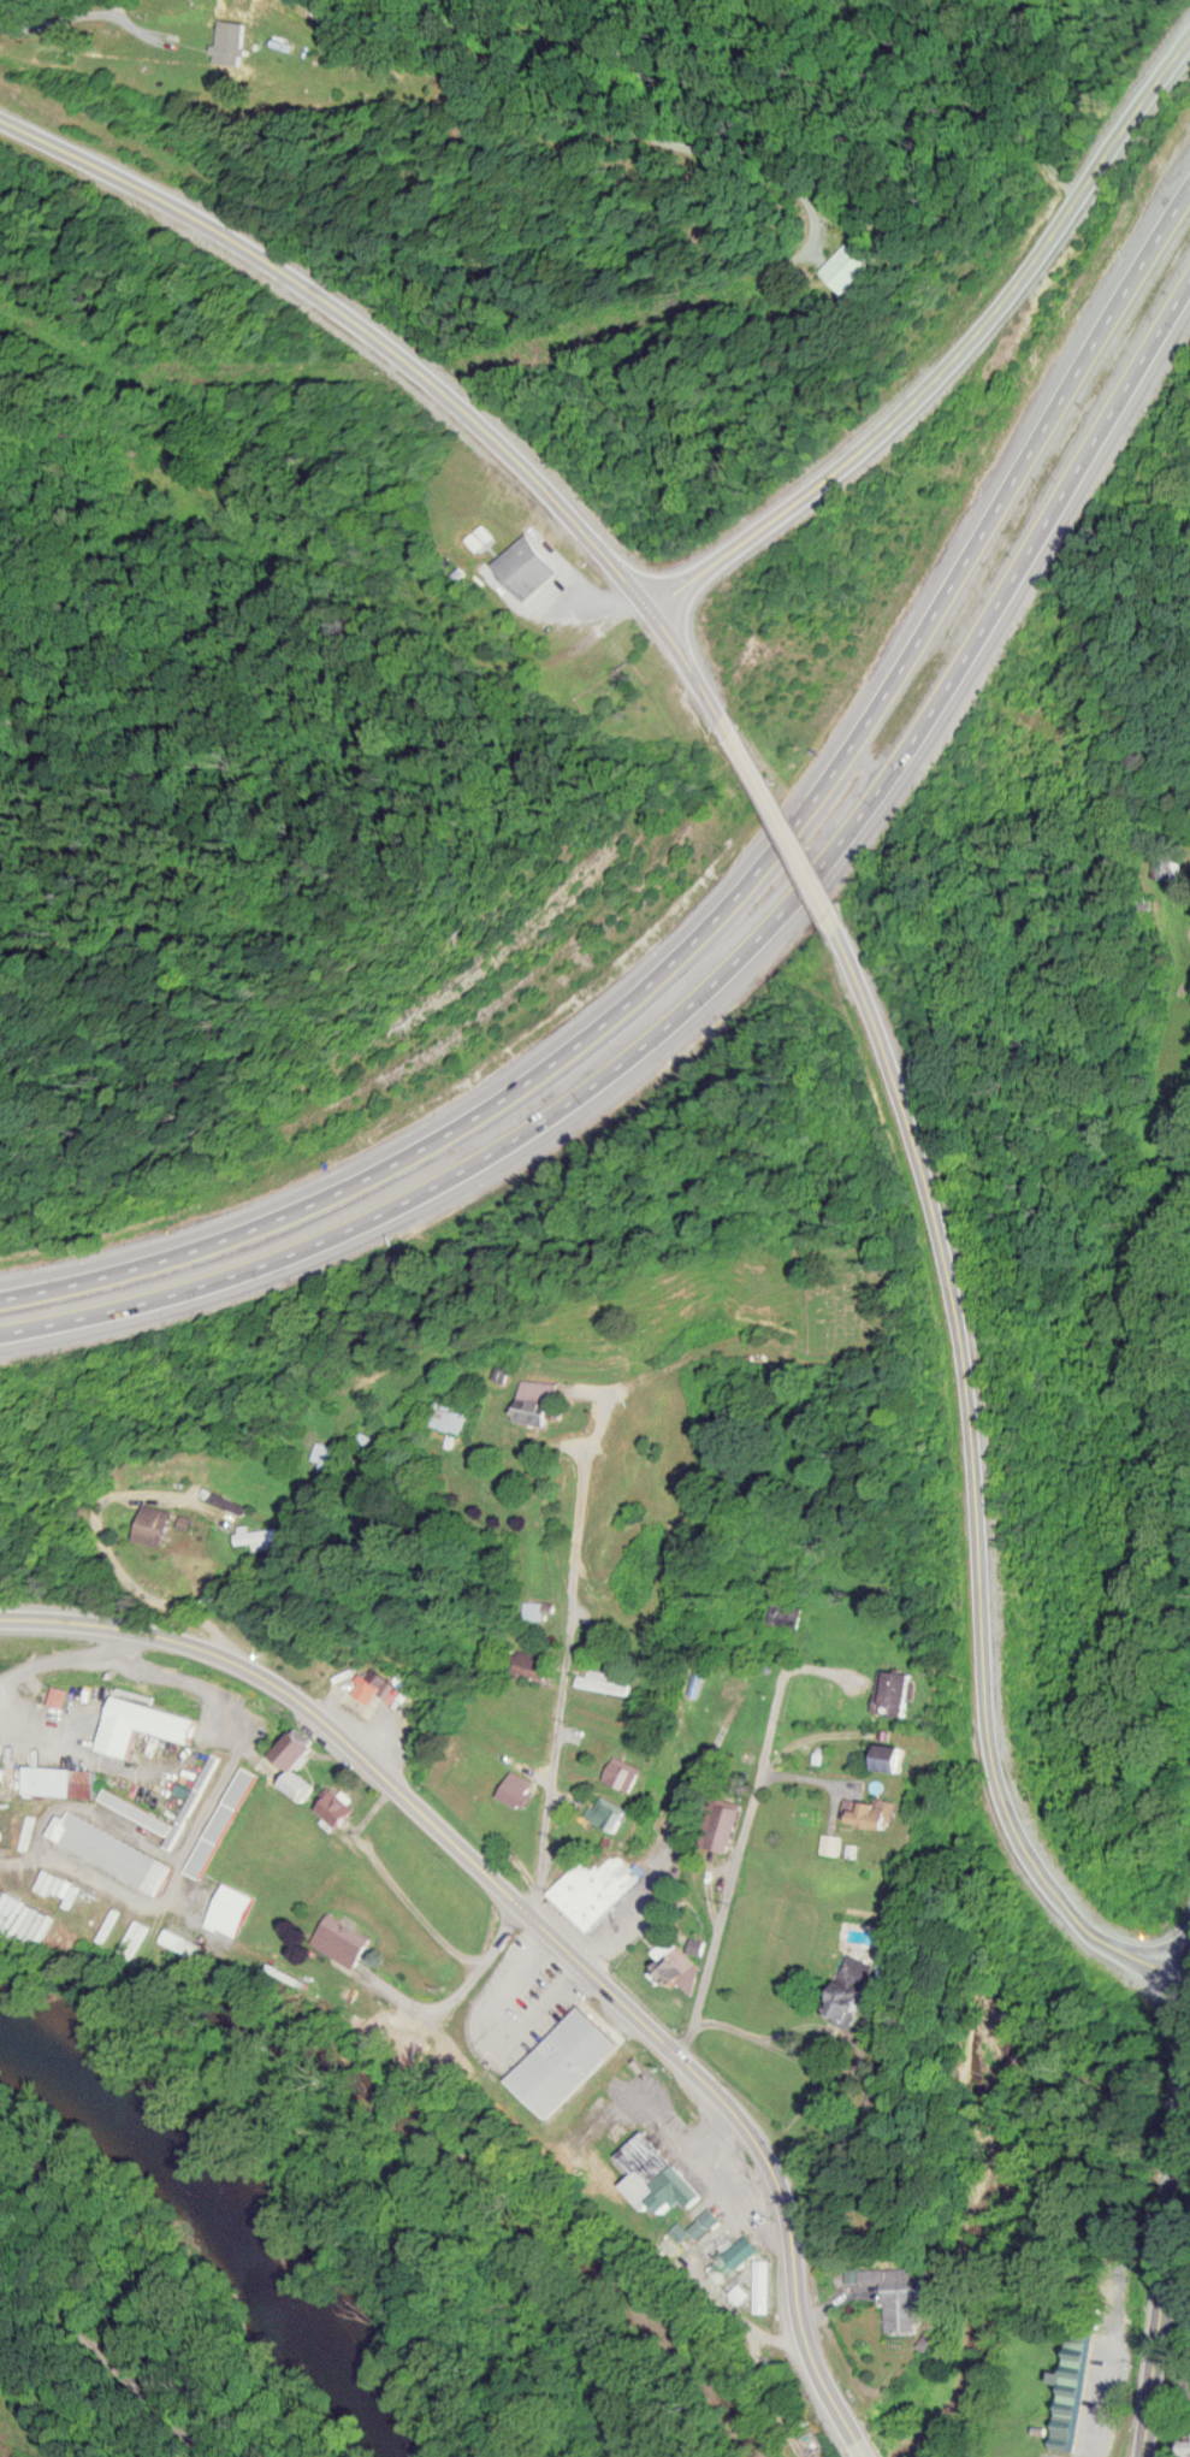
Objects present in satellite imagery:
road: (60, 18)
building: (225, 33)
building: (863, 267)
road: (410, 359)
road: (788, 510)
building: (528, 563)
road: (792, 815)
road: (734, 894)
road: (732, 971)
building: (539, 1399)
building: (450, 1412)
building: (326, 1452)
road: (977, 1484)
building: (159, 1522)
building: (259, 1532)
road: (131, 1549)
building: (540, 1608)
building: (535, 1662)
road: (564, 1678)
building: (605, 1681)
building: (371, 1682)
building: (898, 1690)
building: (60, 1693)
building: (147, 1724)
building: (893, 1754)
building: (297, 1762)
building: (627, 1770)
building: (65, 1779)
building: (521, 1788)
building: (140, 1808)
building: (874, 1808)
building: (612, 1811)
building: (221, 1820)
building: (726, 1824)
building: (113, 1849)
road: (728, 1872)
building: (599, 1898)
building: (233, 1908)
road: (543, 1924)
building: (343, 1937)
building: (859, 1977)
road: (495, 2028)
building: (569, 2053)
building: (661, 2170)
river: (231, 2213)
building: (709, 2221)
road: (1166, 2244)
building: (742, 2248)
building: (1117, 2270)
building: (764, 2285)
building: (900, 2296)
road: (79, 2362)
building: (1074, 2380)
road: (1097, 2394)
building: (1186, 2446)

